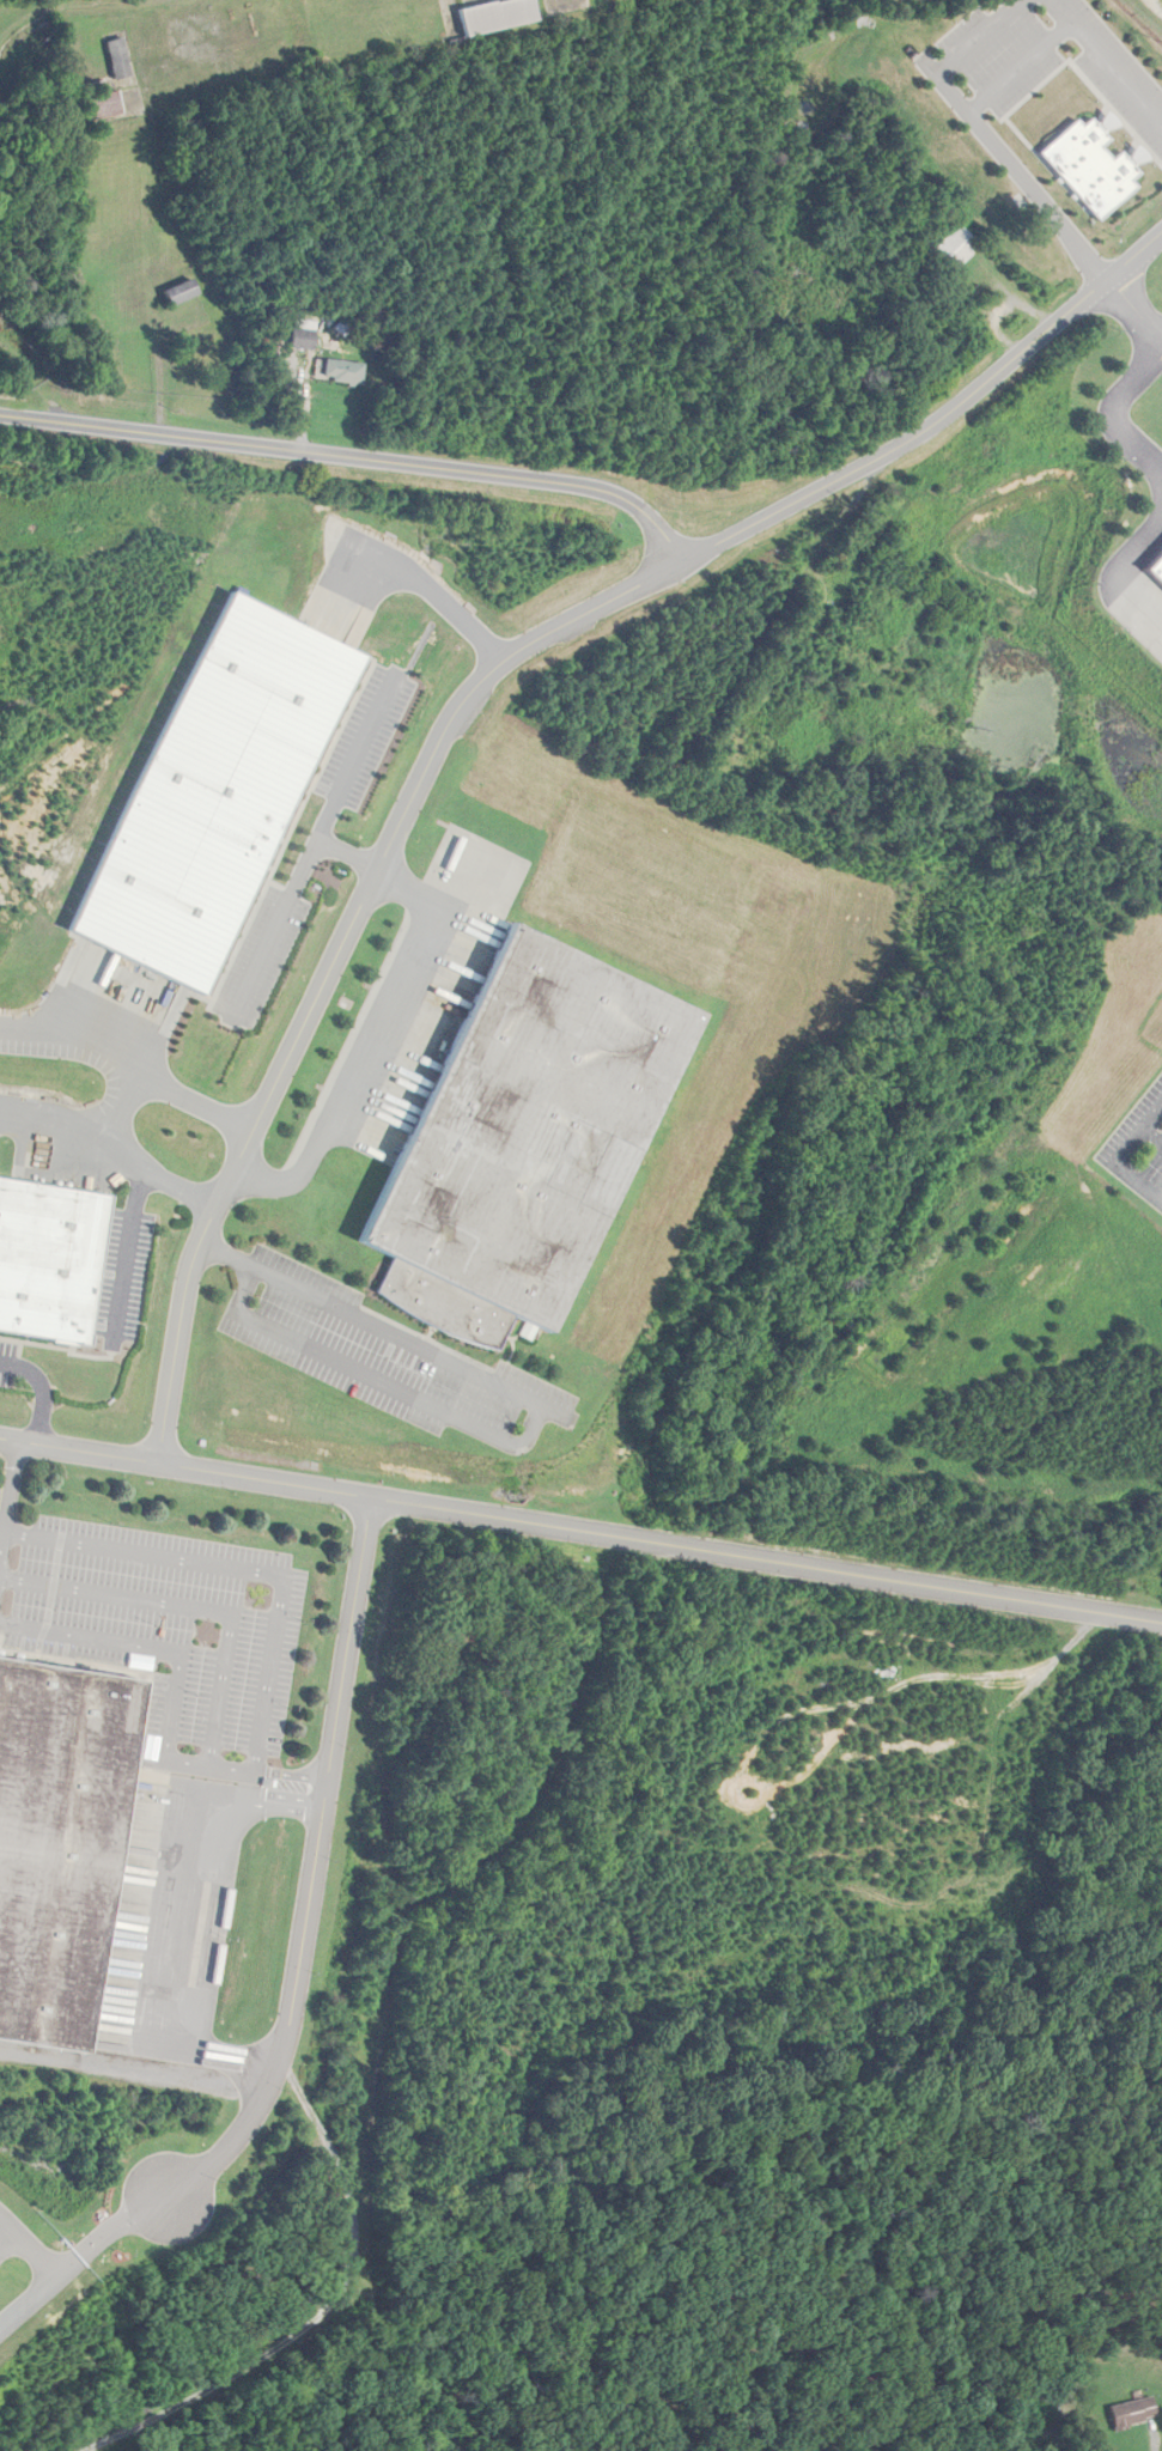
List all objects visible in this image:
building: (497, 16)
road: (966, 50)
building: (117, 59)
road: (1107, 61)
road: (1021, 67)
building: (98, 103)
road: (1038, 197)
building: (956, 248)
building: (178, 293)
road: (1134, 310)
building: (302, 340)
building: (342, 372)
road: (1108, 410)
road: (638, 509)
building: (1151, 567)
road: (1106, 583)
road: (424, 595)
road: (306, 847)
road: (340, 856)
road: (330, 949)
road: (364, 1044)
road: (124, 1066)
road: (111, 1107)
road: (1151, 1133)
building: (523, 1141)
road: (105, 1151)
road: (1119, 1152)
road: (117, 1254)
building: (49, 1257)
road: (43, 1387)
road: (528, 1425)
road: (1, 1454)
road: (580, 1528)
road: (231, 1573)
road: (185, 1607)
road: (160, 1710)
building: (57, 1821)
road: (176, 1853)
road: (314, 1868)
road: (105, 2232)
road: (7, 2239)
road: (28, 2246)
road: (28, 2303)
building: (1132, 2413)

